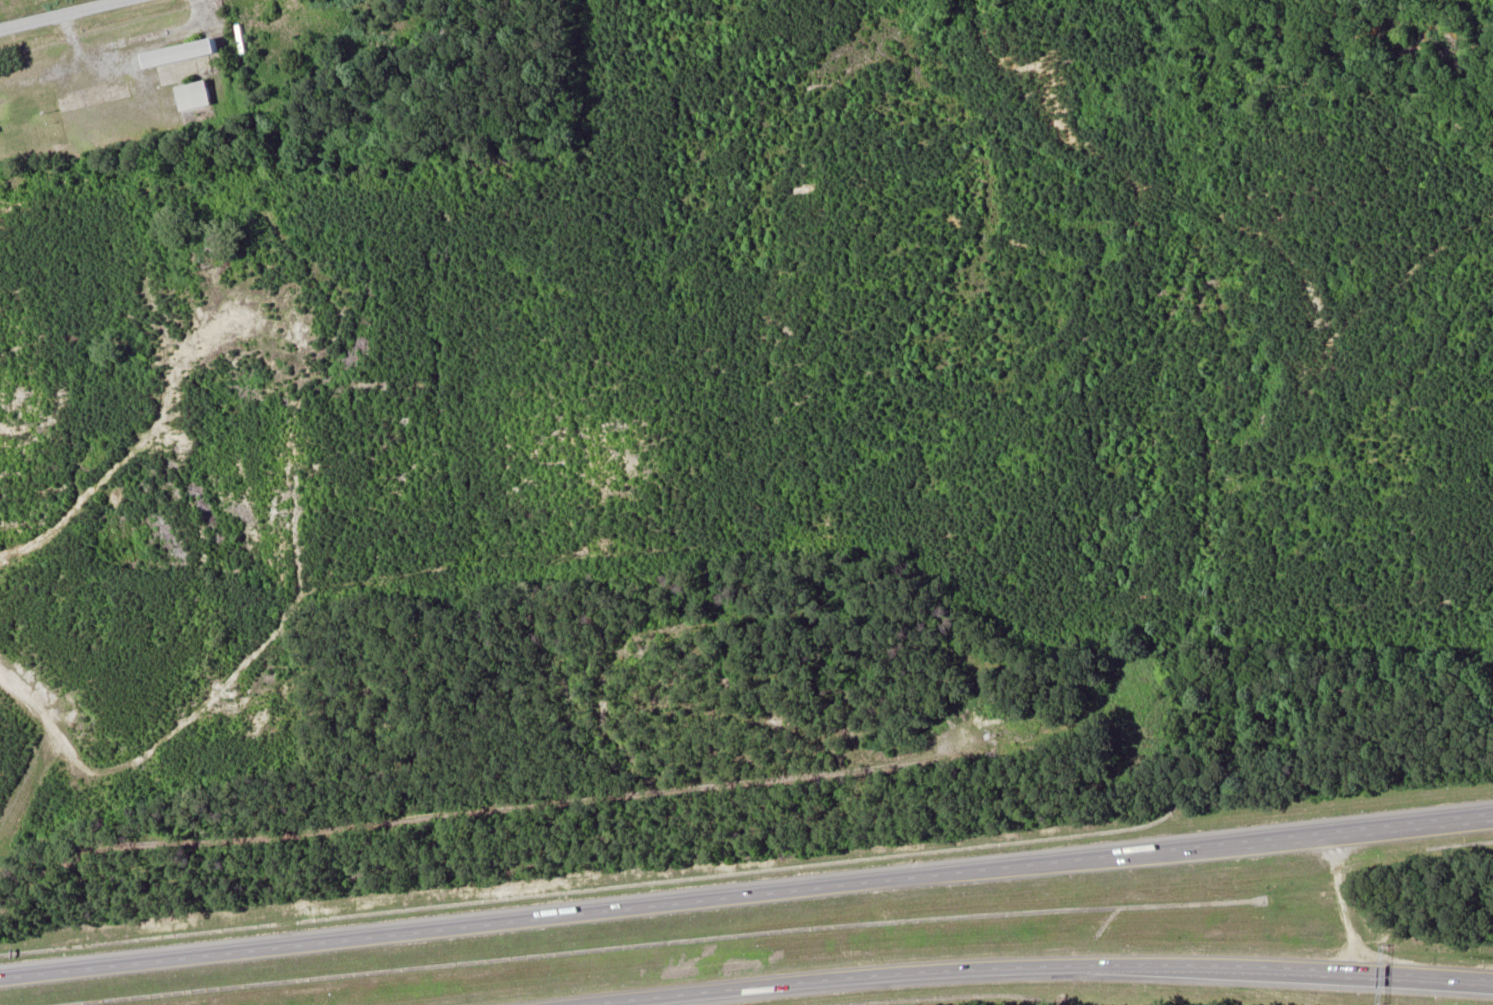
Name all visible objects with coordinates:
road: (59, 13)
building: (182, 55)
building: (195, 95)
road: (133, 471)
road: (746, 894)
road: (996, 967)
road: (1468, 980)
road: (1468, 982)

